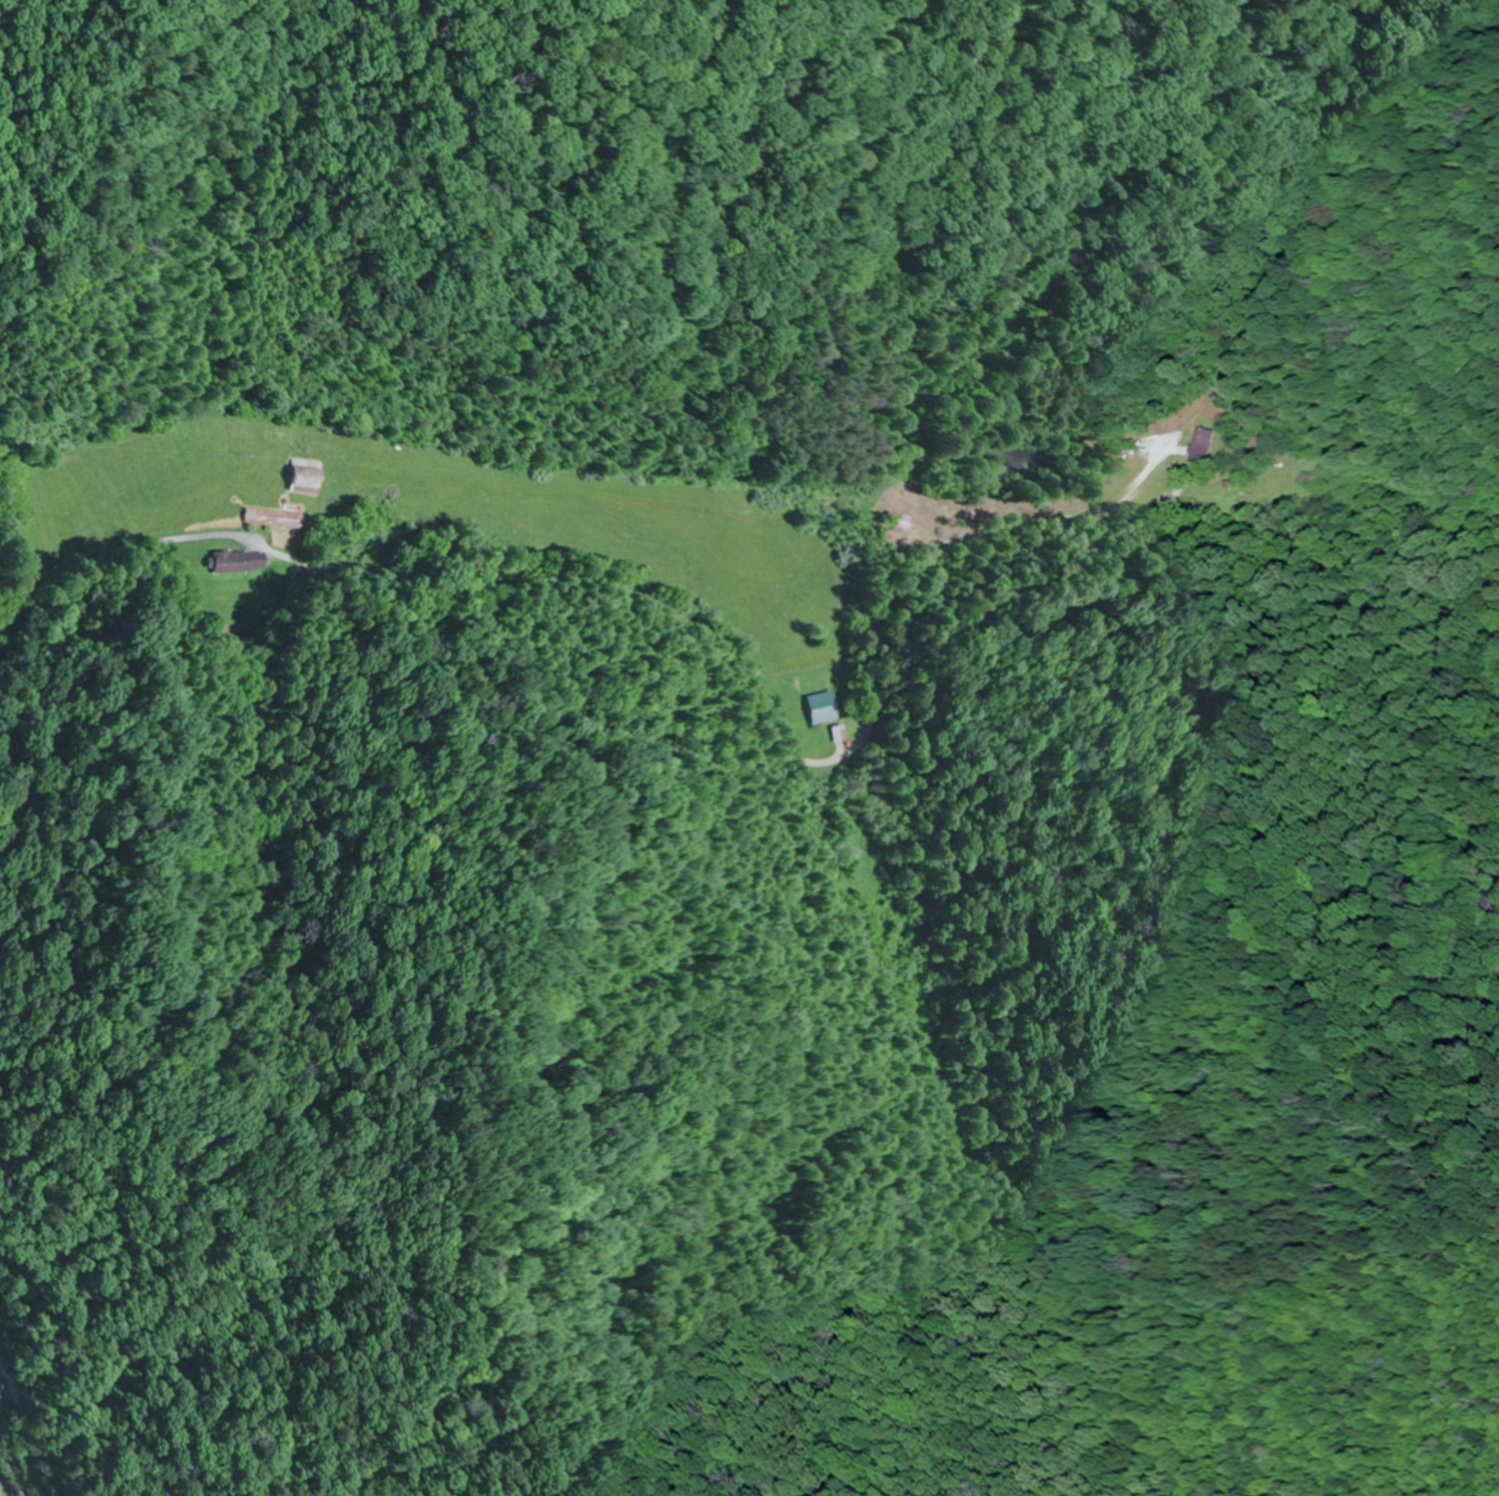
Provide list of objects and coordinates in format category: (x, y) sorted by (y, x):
building: (1204, 447)
building: (295, 480)
building: (265, 519)
building: (897, 523)
road: (127, 550)
building: (230, 561)
building: (812, 708)
building: (831, 734)

